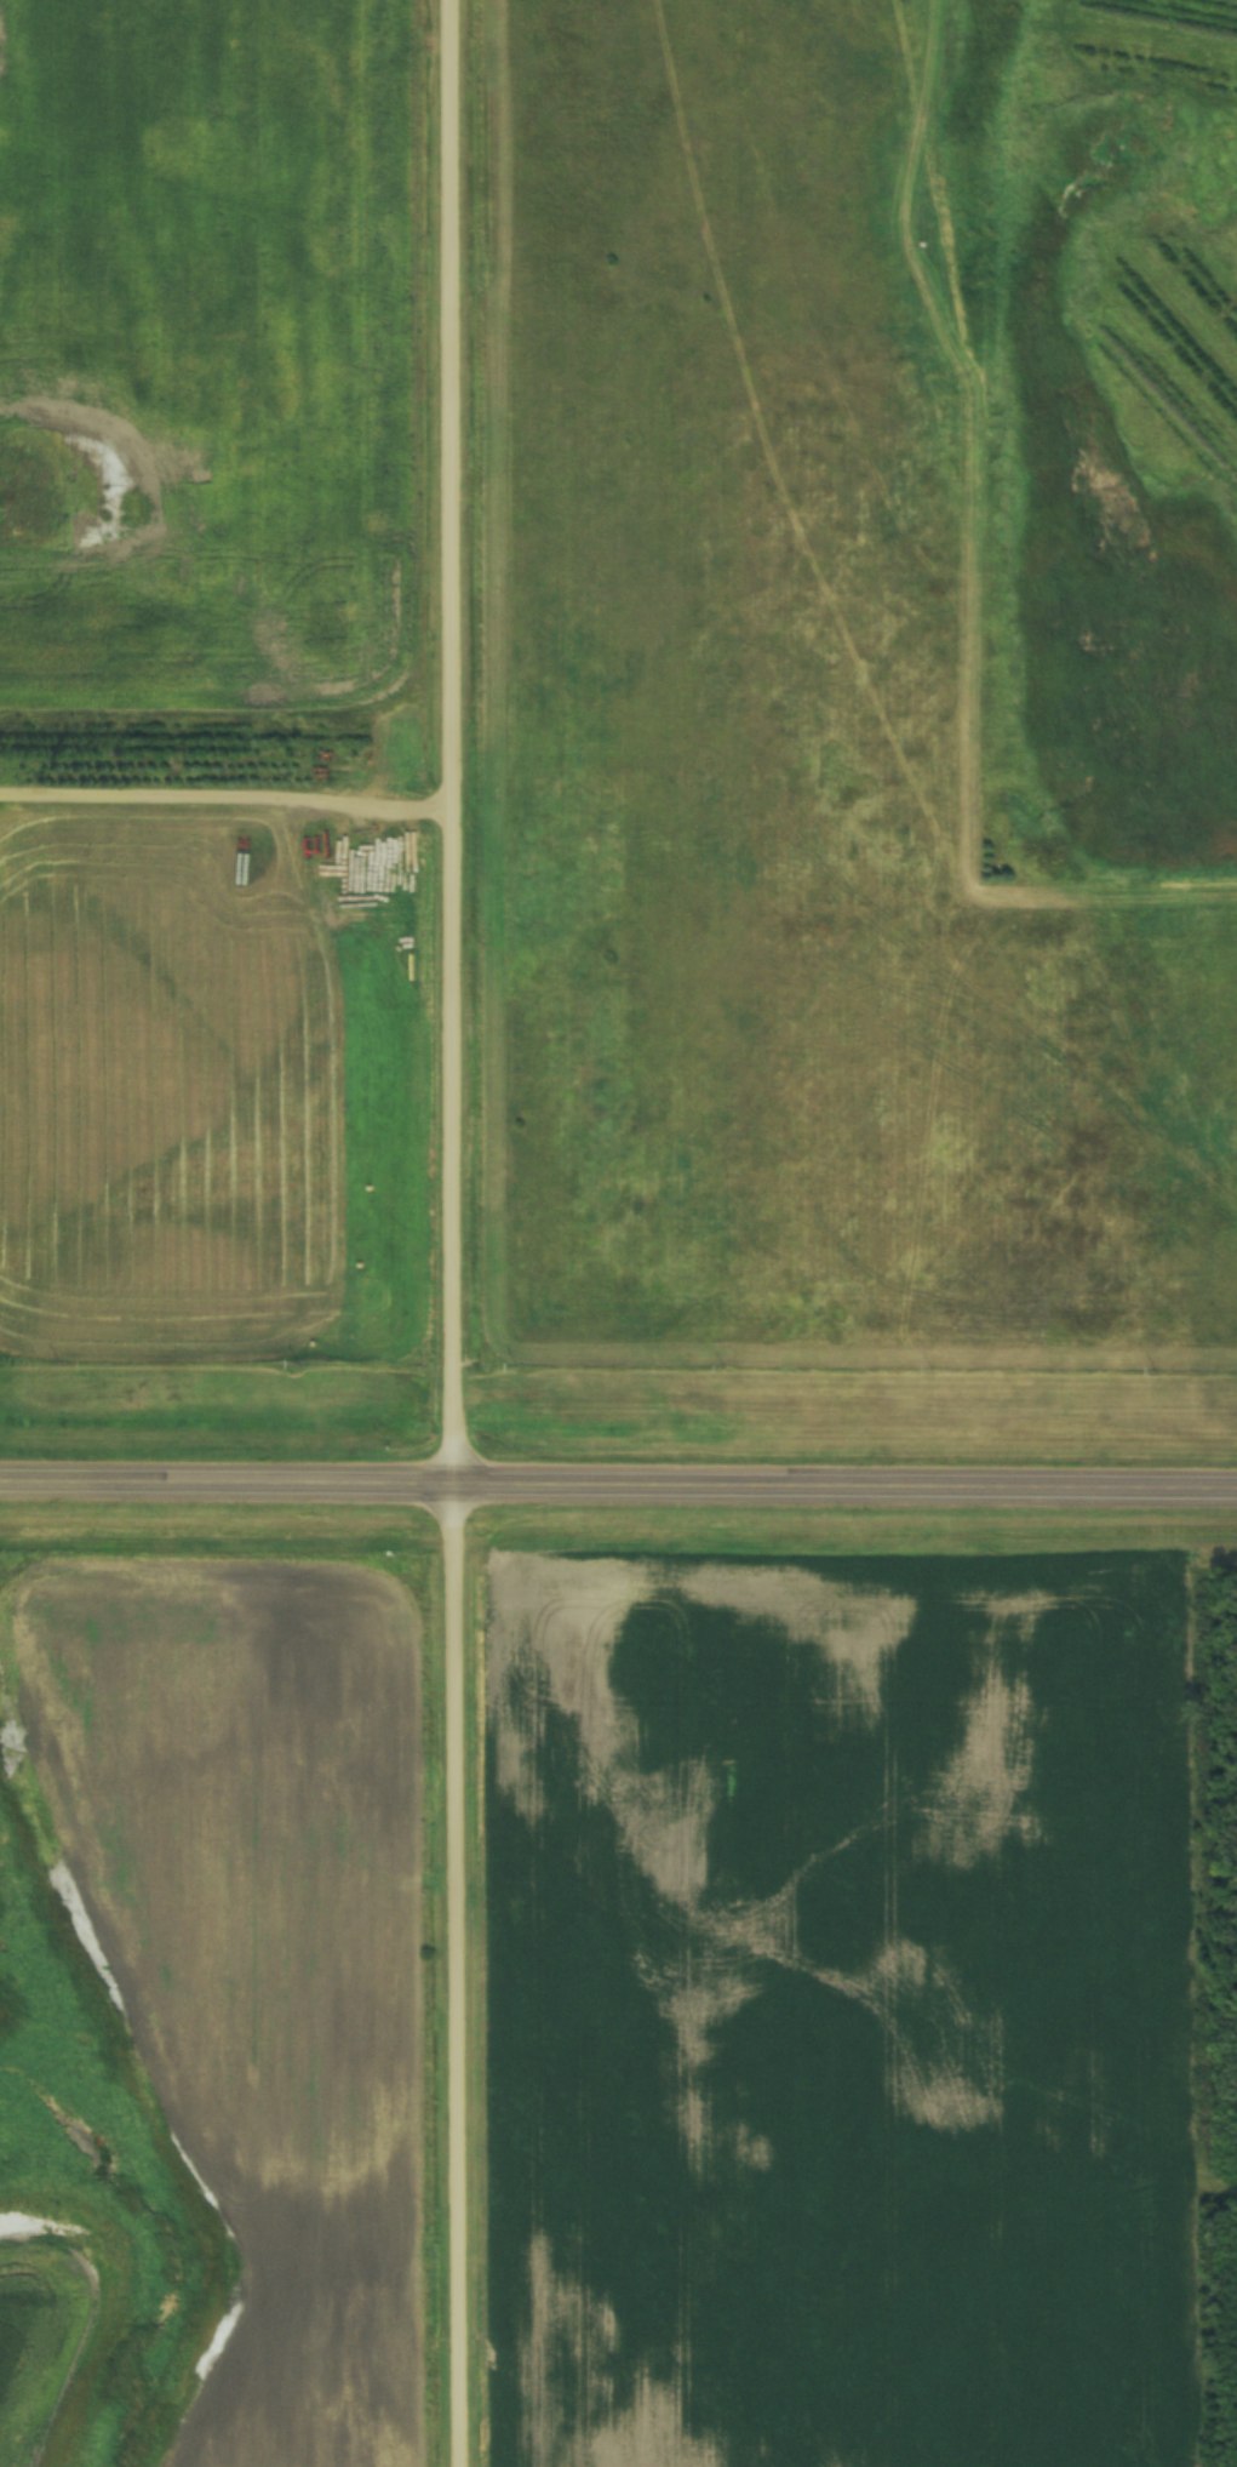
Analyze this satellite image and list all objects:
road: (228, 803)
building: (1021, 820)
road: (457, 1233)
road: (618, 1480)

